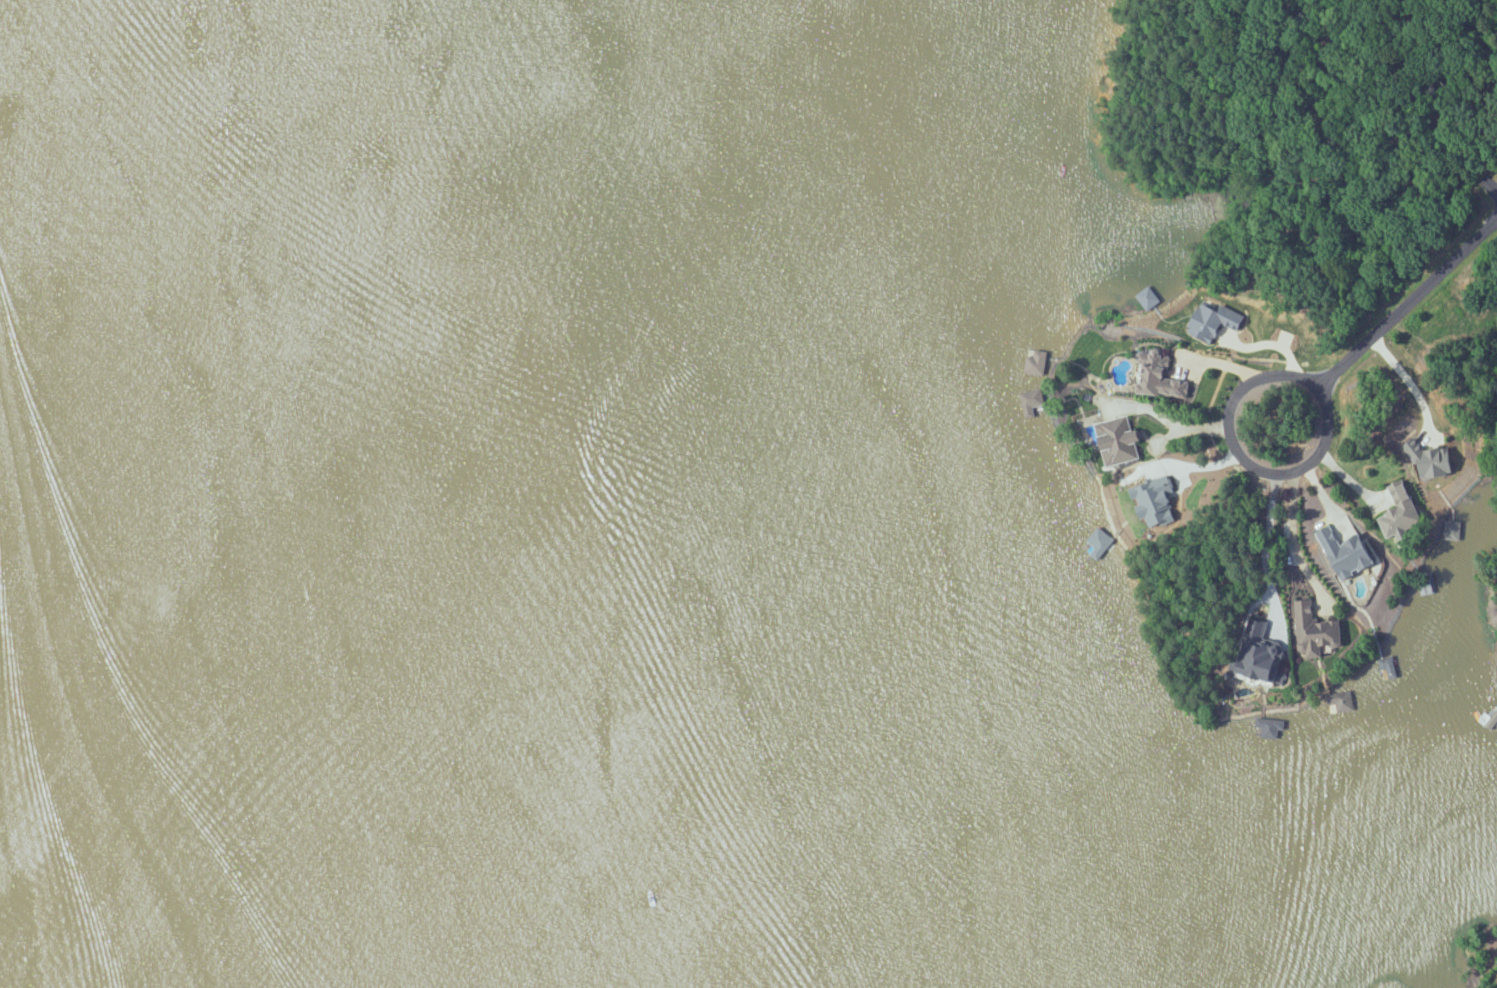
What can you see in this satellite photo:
road: (1495, 188)
road: (1408, 301)
building: (1215, 321)
building: (1037, 362)
building: (1161, 375)
building: (1033, 401)
building: (1122, 440)
road: (1244, 457)
building: (1432, 461)
river: (214, 489)
building: (1157, 502)
building: (1402, 512)
building: (1453, 530)
building: (1349, 553)
building: (1317, 631)
building: (1265, 659)
building: (1389, 667)
building: (1341, 701)
building: (1271, 727)

